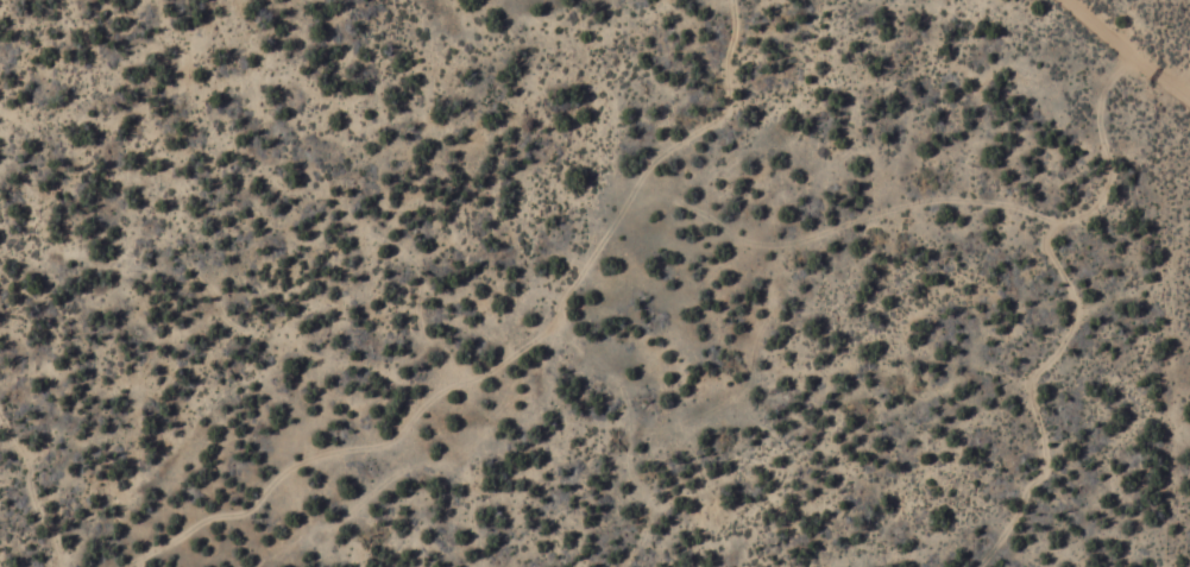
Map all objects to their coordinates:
road: (1126, 49)

